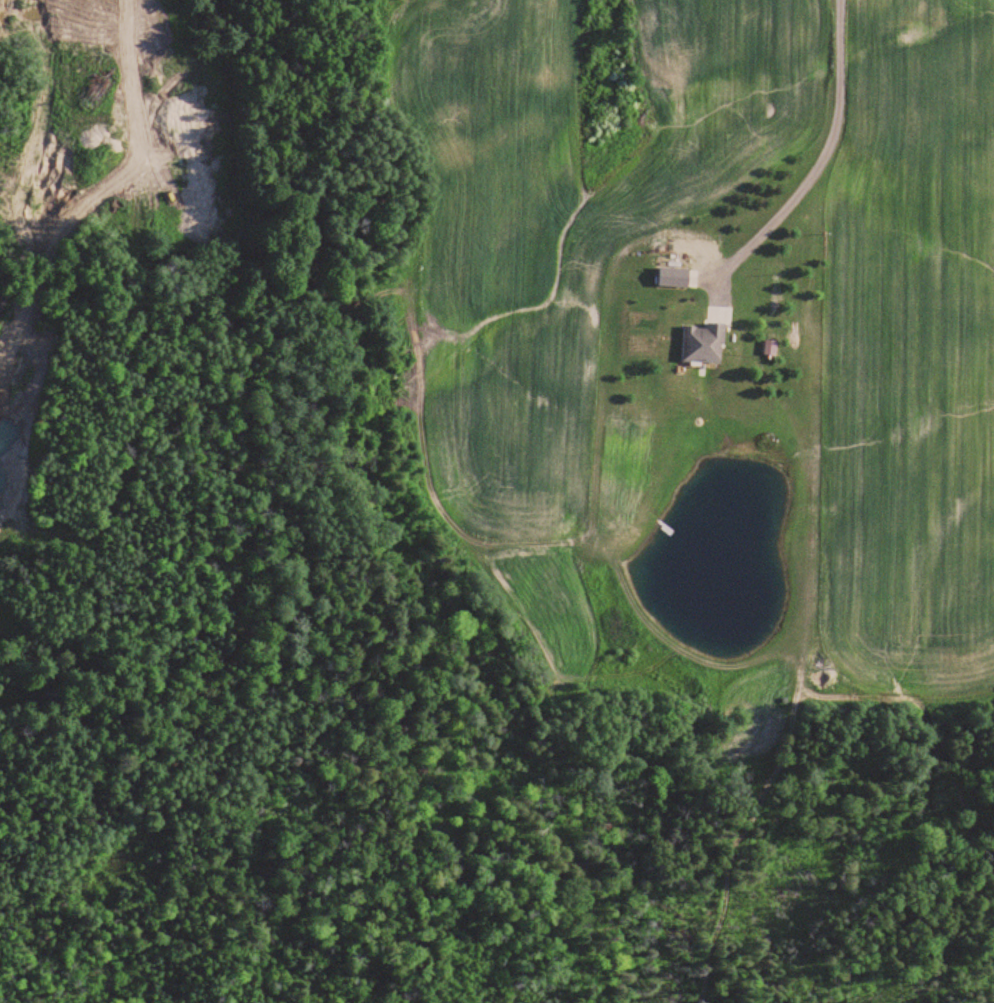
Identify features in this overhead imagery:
road: (822, 156)
building: (703, 344)

